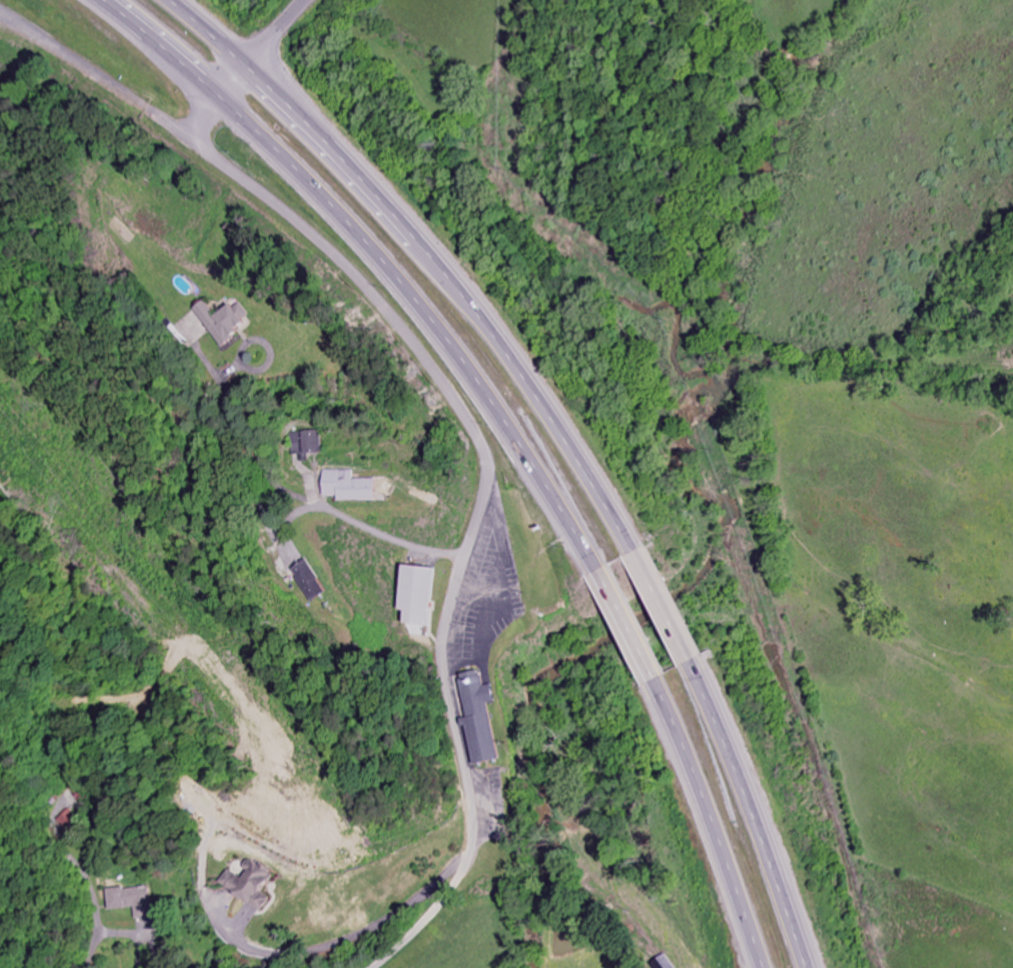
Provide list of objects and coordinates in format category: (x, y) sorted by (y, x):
road: (214, 32)
road: (160, 47)
road: (266, 50)
road: (94, 76)
road: (205, 119)
building: (229, 322)
building: (314, 443)
road: (596, 476)
building: (351, 487)
road: (553, 495)
road: (483, 515)
building: (313, 582)
building: (423, 596)
building: (485, 717)
building: (255, 885)
building: (131, 901)

